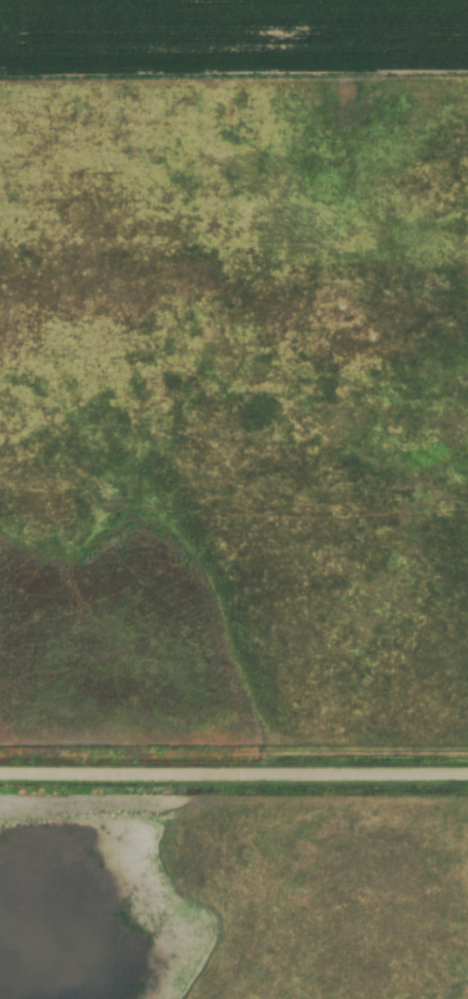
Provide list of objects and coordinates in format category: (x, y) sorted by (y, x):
road: (234, 767)

